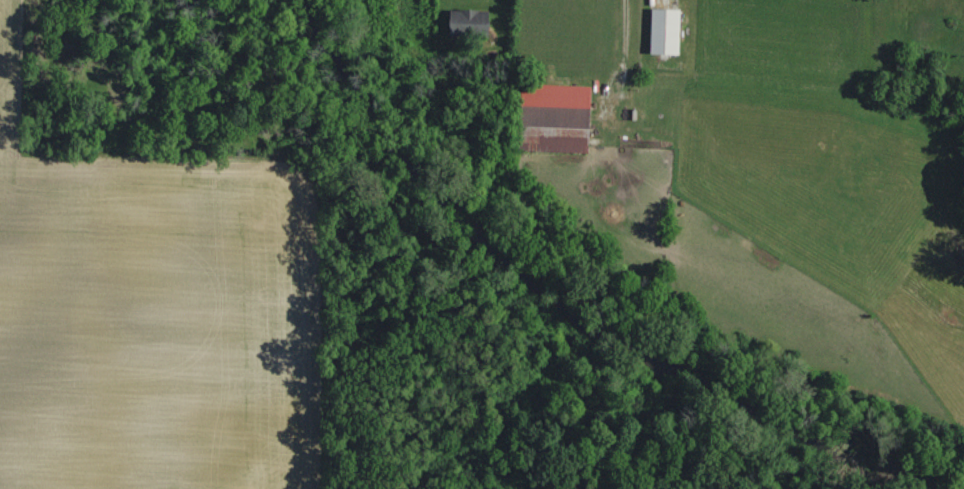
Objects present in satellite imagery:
building: (470, 22)
building: (666, 30)
road: (635, 39)
building: (555, 118)

